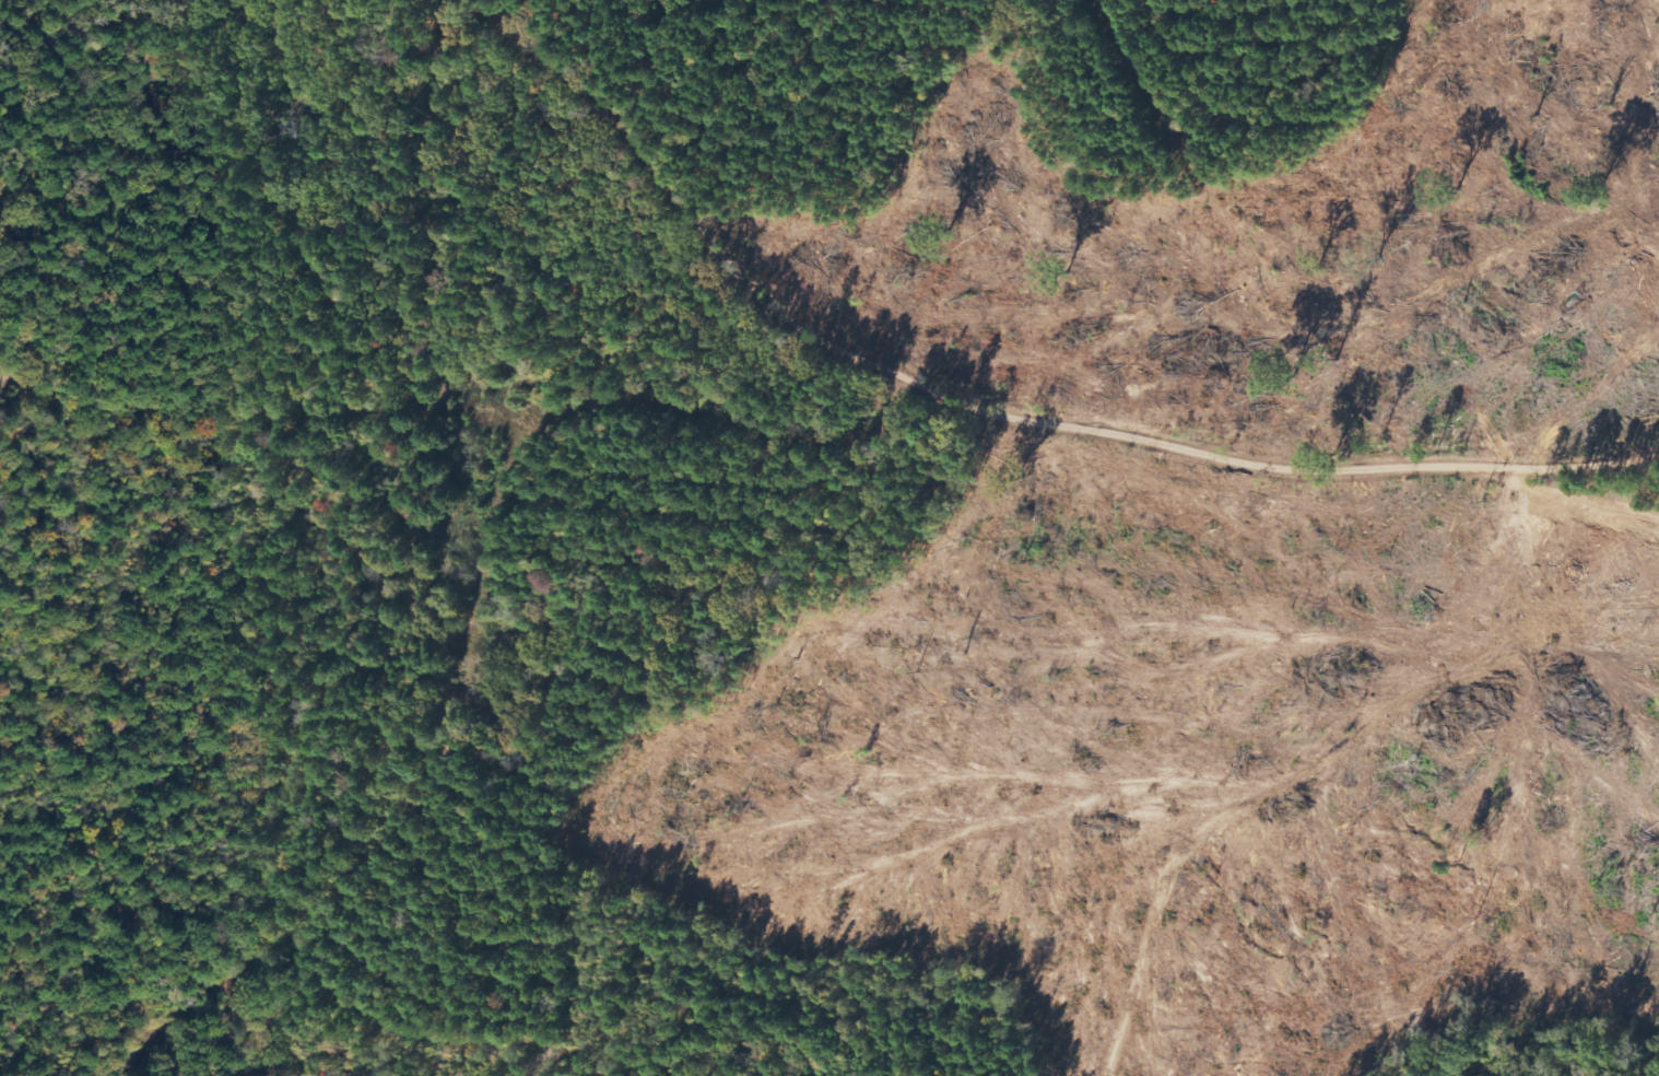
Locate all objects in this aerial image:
road: (991, 413)

